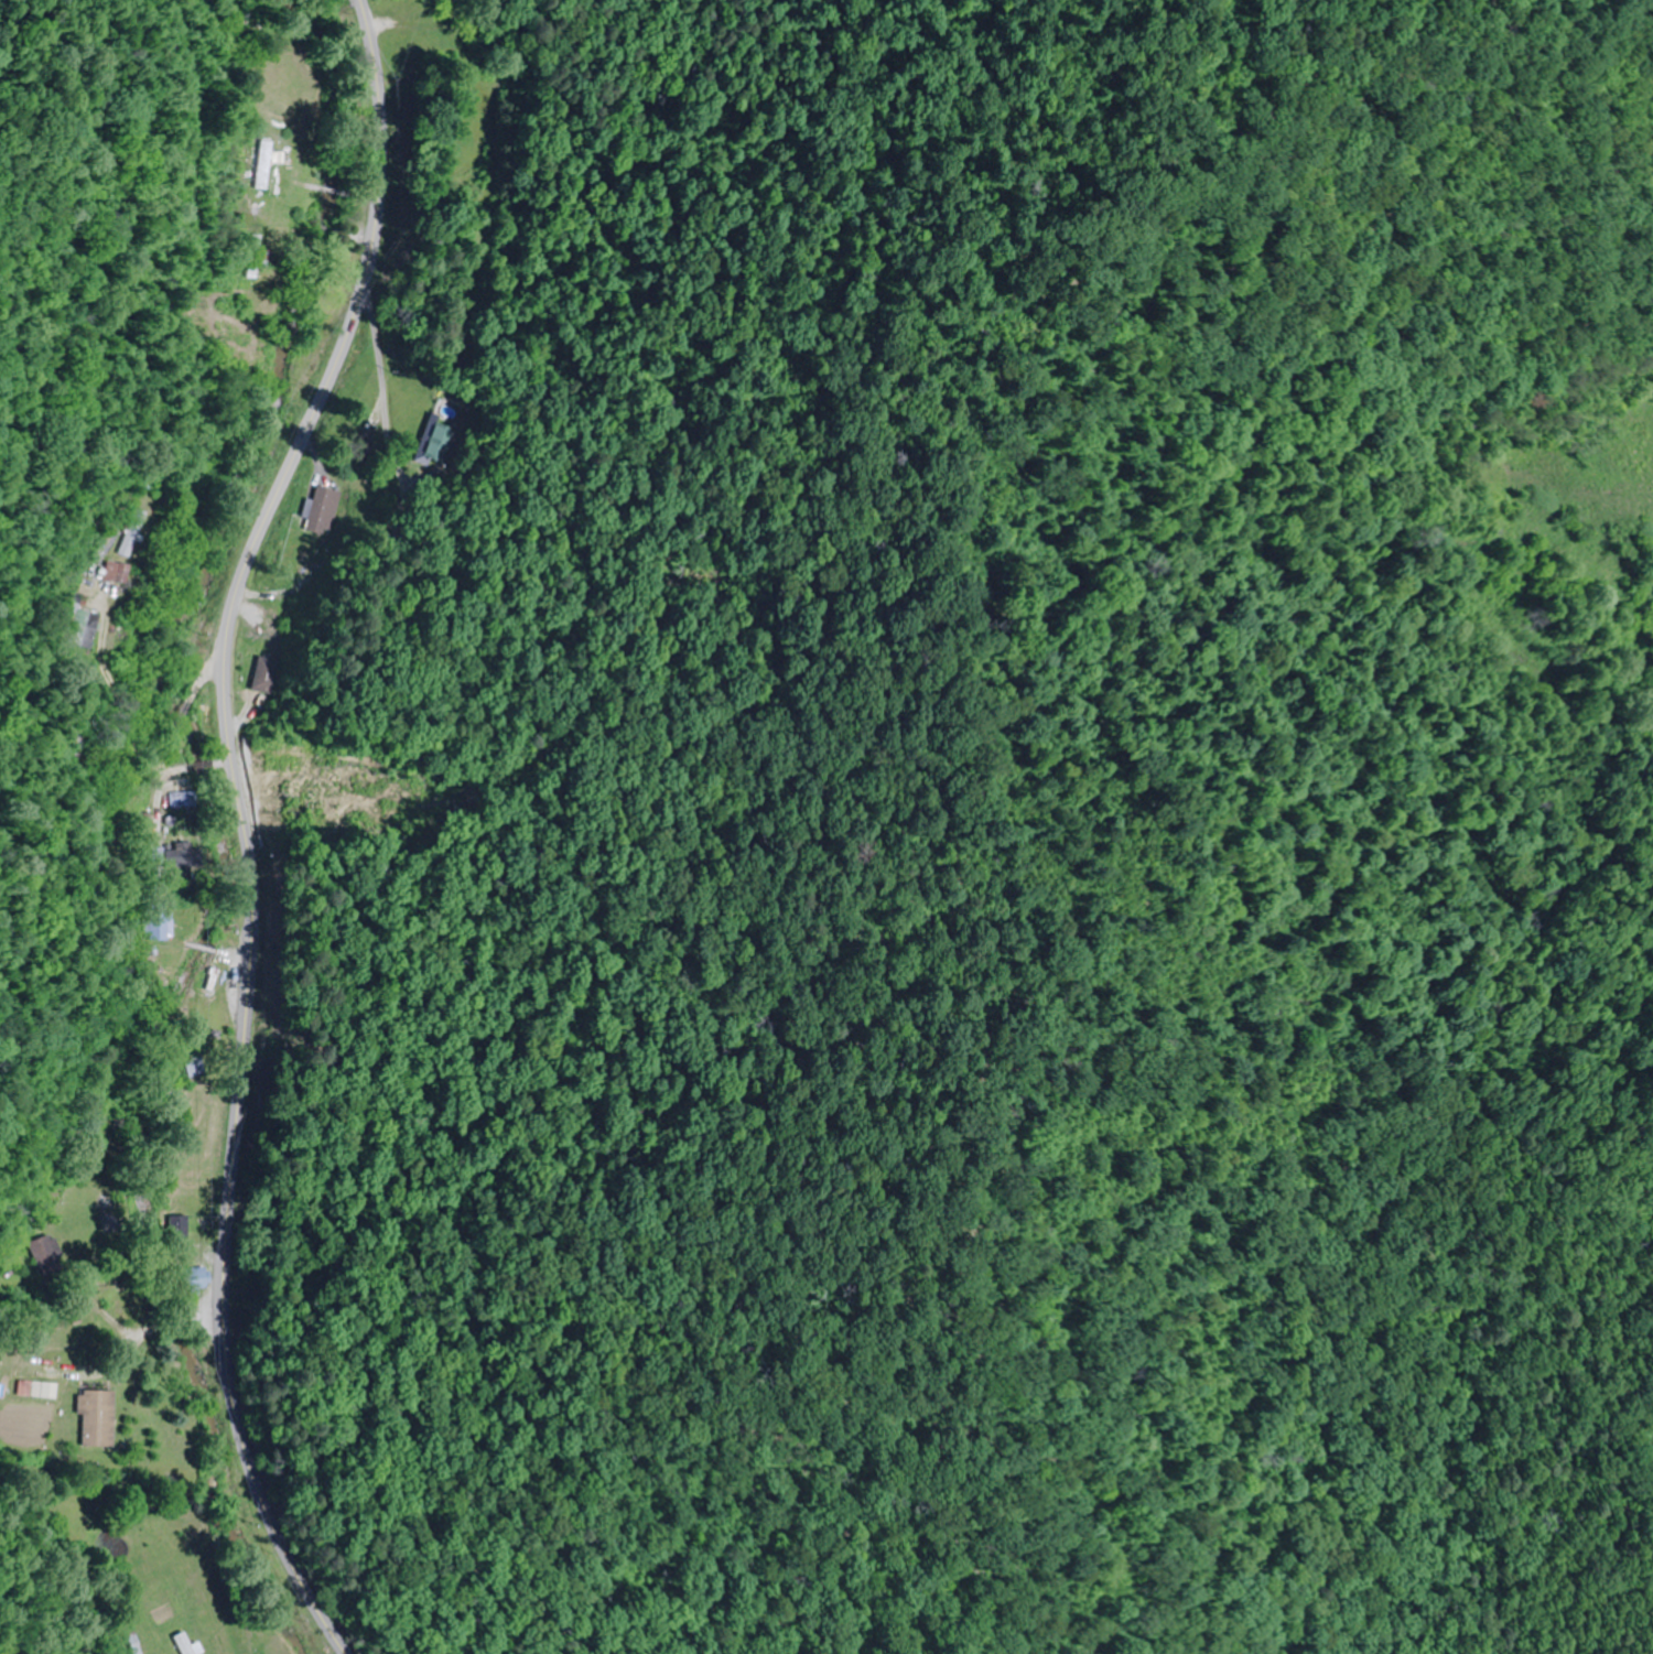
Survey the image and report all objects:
building: (257, 256)
building: (430, 442)
building: (318, 510)
building: (177, 800)
road: (244, 824)
building: (159, 922)
building: (196, 1066)
building: (42, 1253)
building: (194, 1282)
road: (137, 1330)
building: (40, 1390)
building: (93, 1418)
building: (183, 1644)

